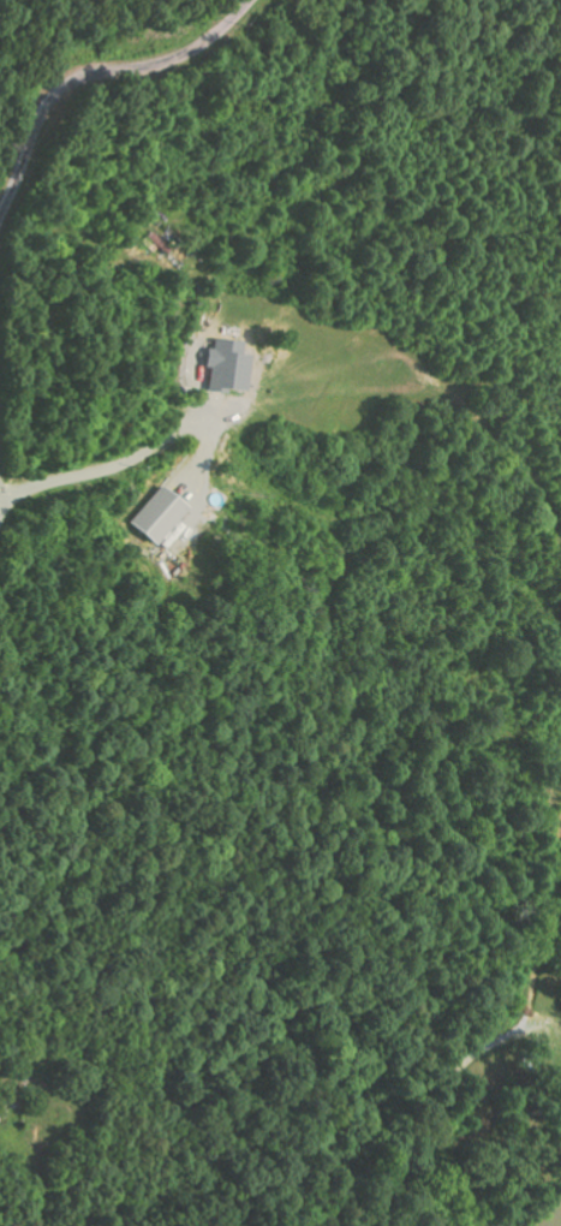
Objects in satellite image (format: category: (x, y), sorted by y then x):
road: (90, 76)
building: (225, 365)
building: (155, 516)

